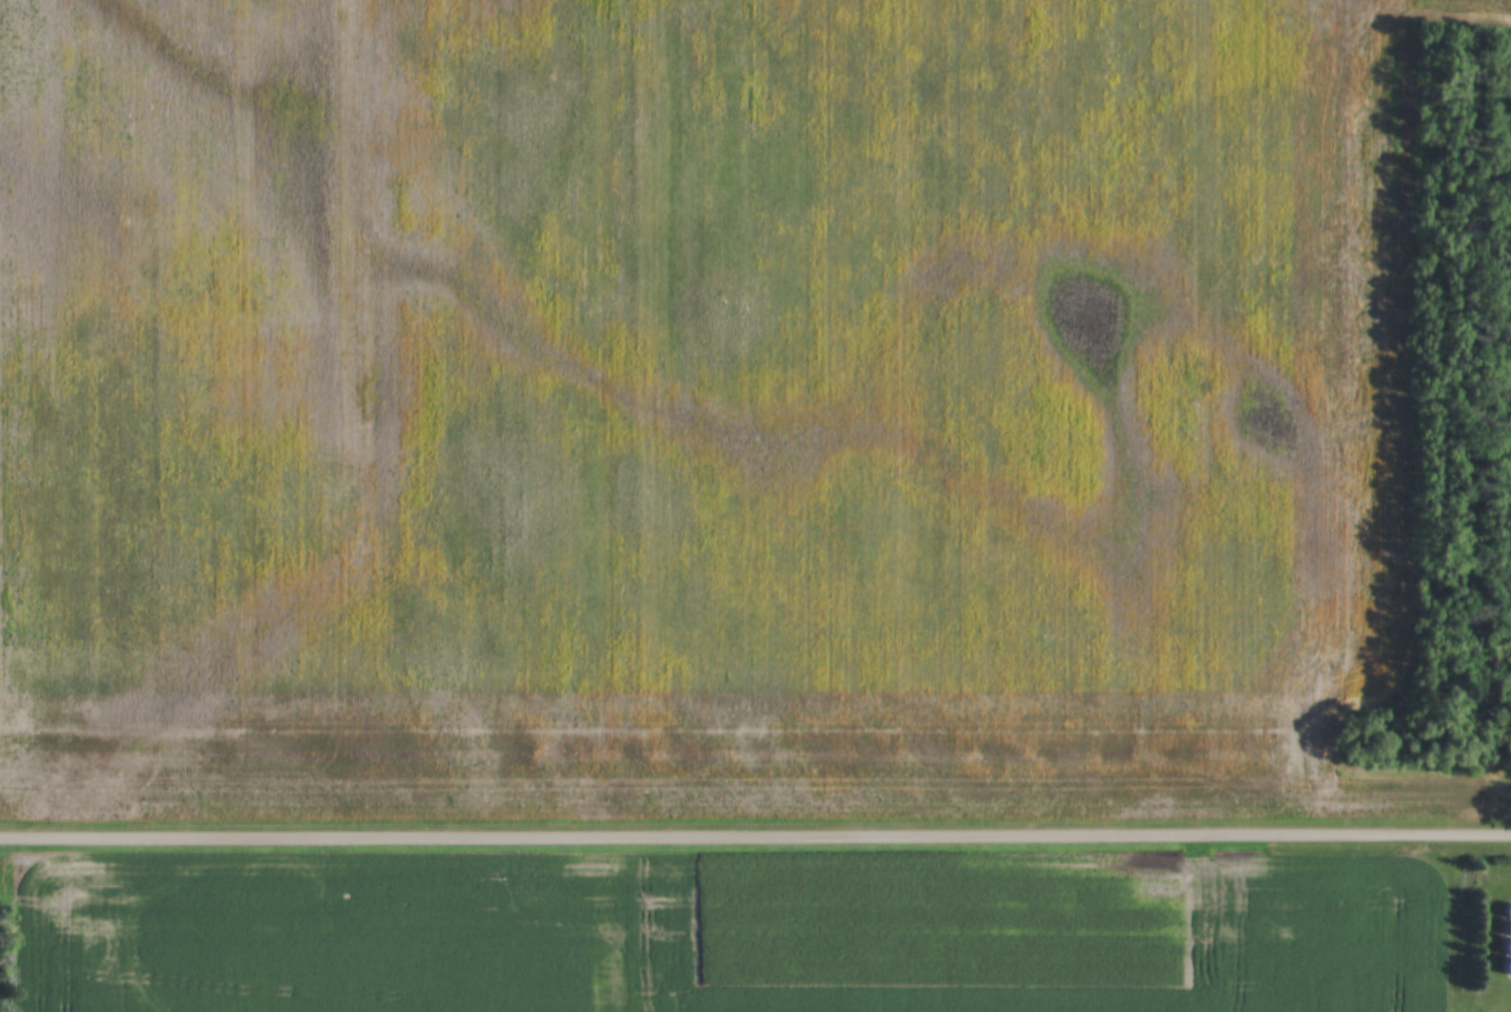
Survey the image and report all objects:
road: (755, 839)

